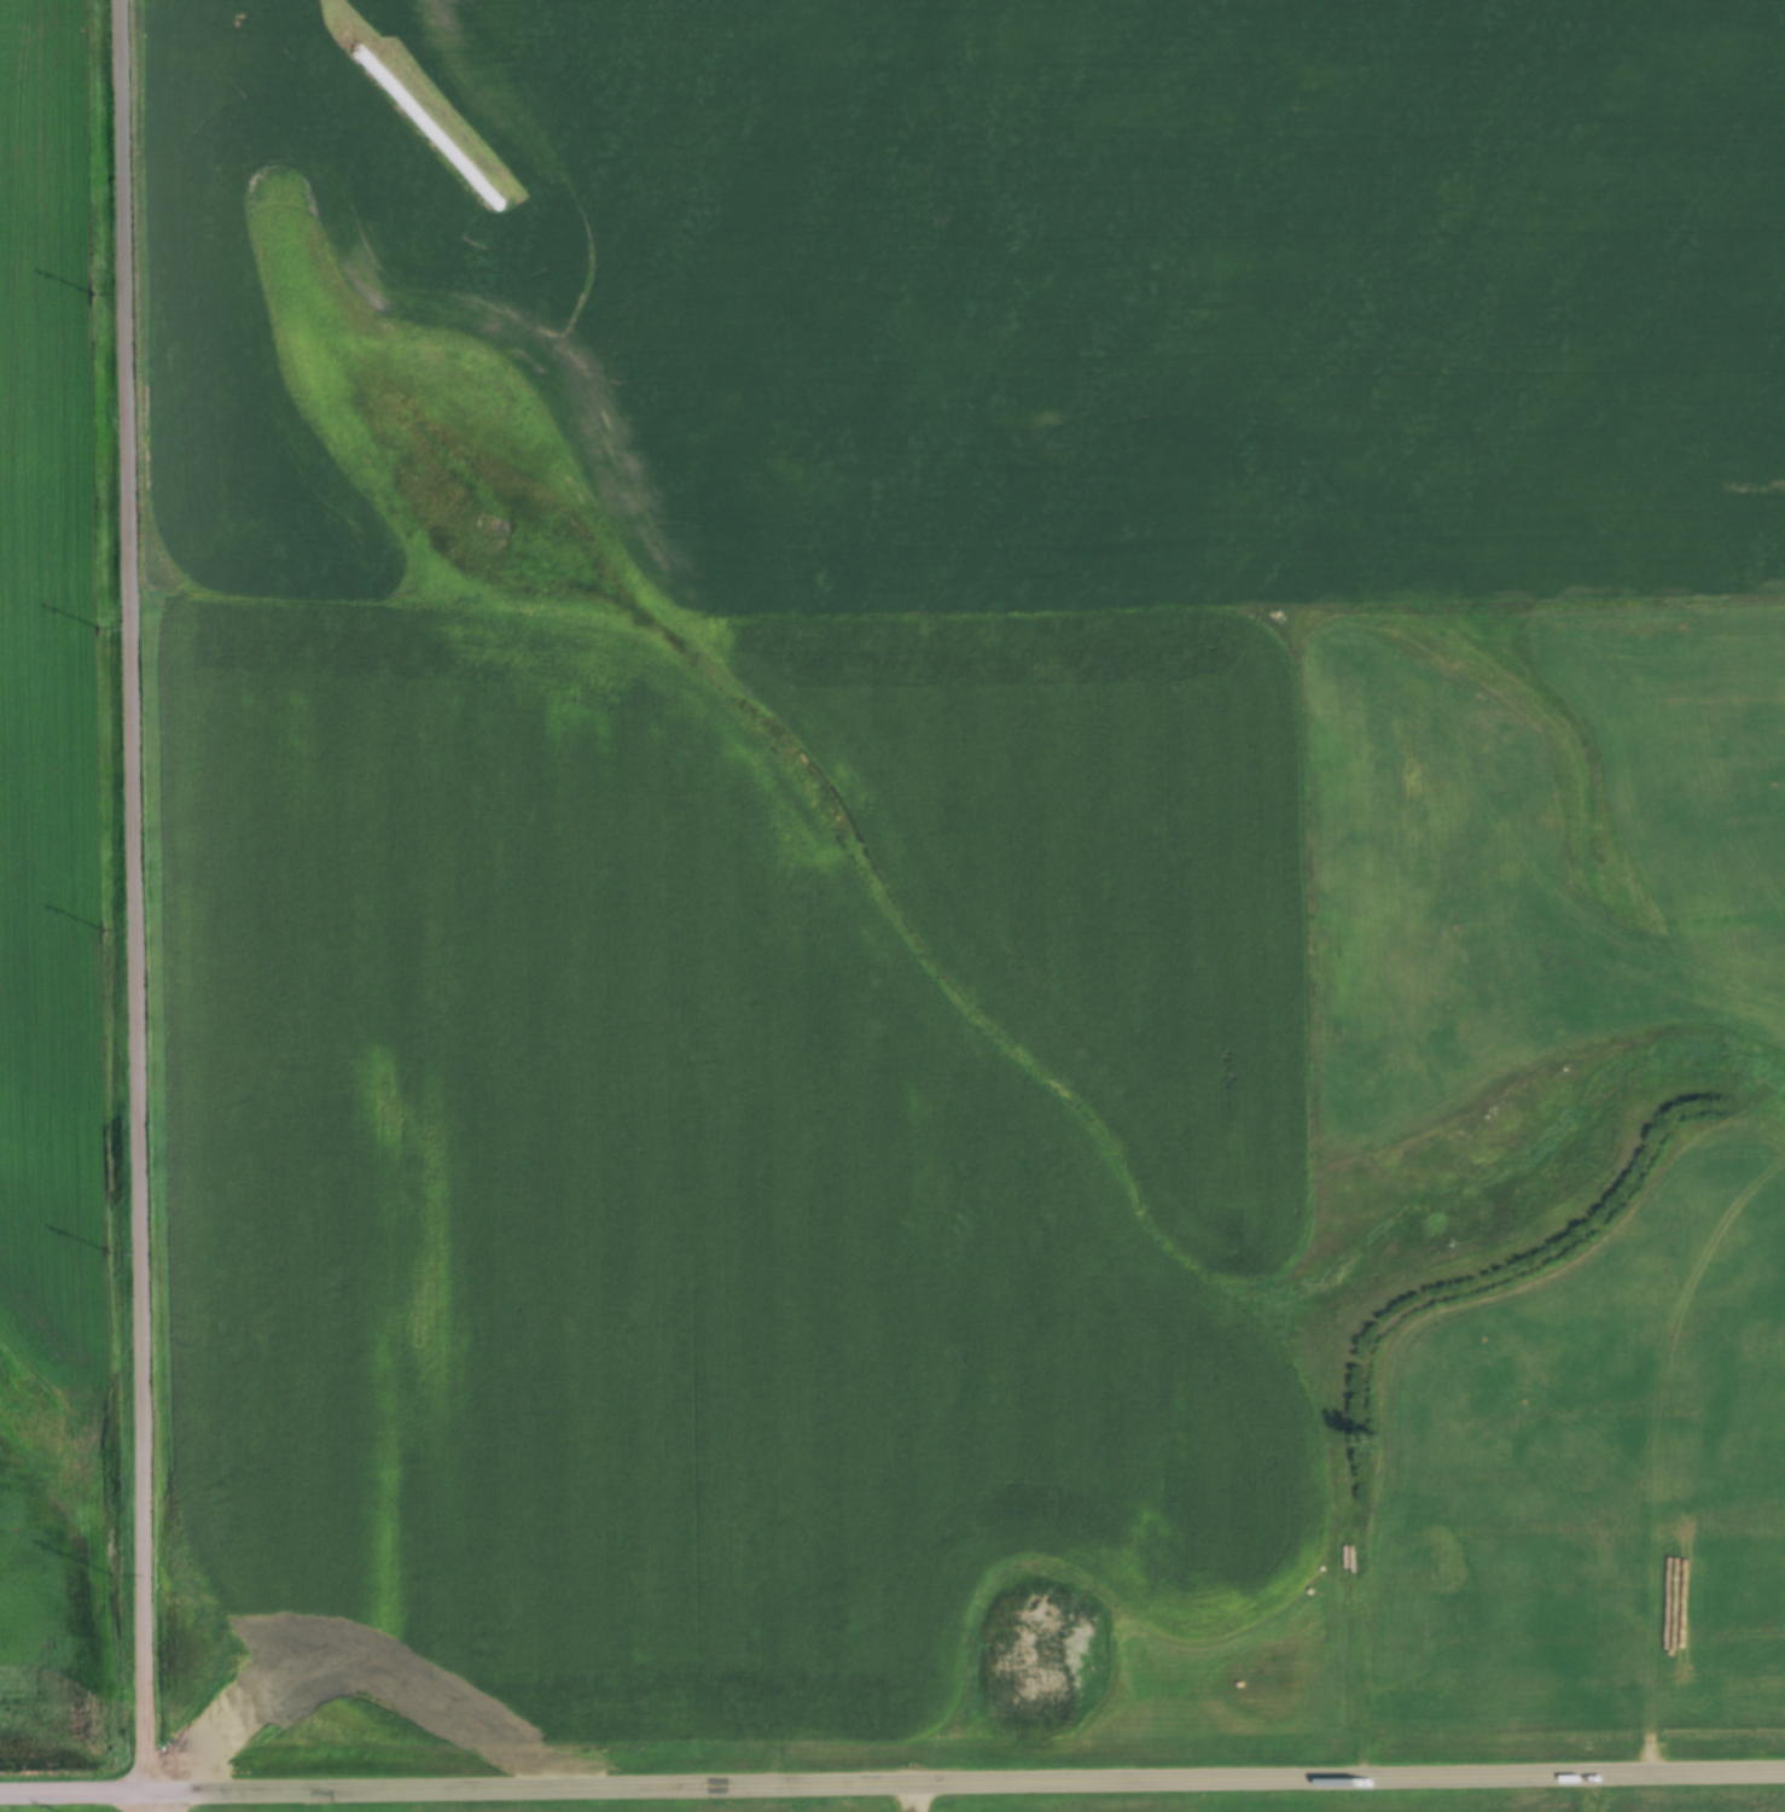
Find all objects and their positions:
road: (133, 905)
road: (892, 1779)
road: (921, 1795)

